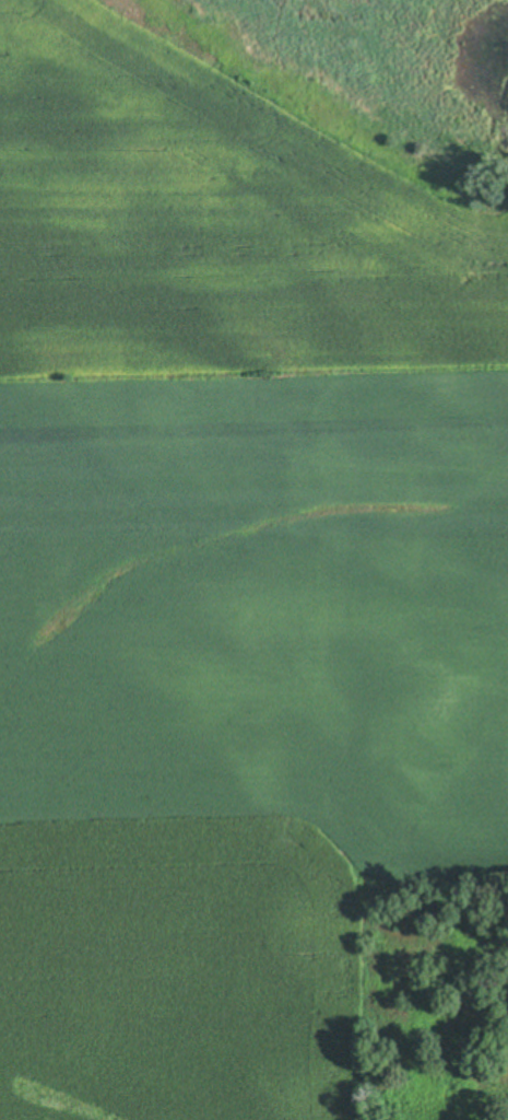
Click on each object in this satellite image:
crop: (243, 604)

